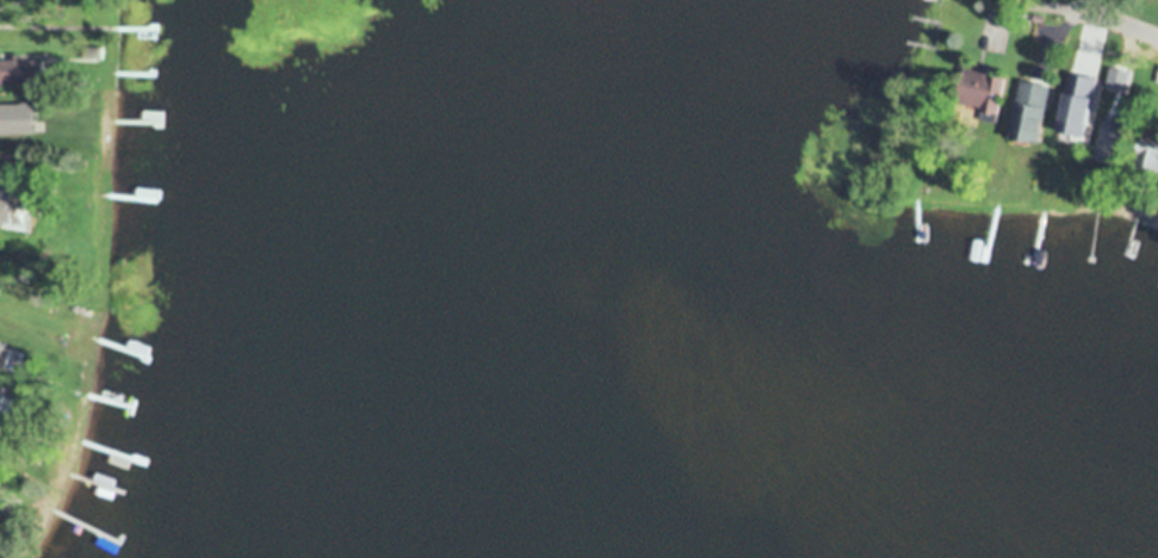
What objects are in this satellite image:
road: (1119, 20)
building: (1092, 62)
building: (1119, 64)
building: (24, 70)
building: (1156, 79)
building: (981, 88)
building: (36, 105)
building: (1030, 111)
building: (1073, 129)
building: (1148, 153)
building: (14, 206)
building: (5, 354)
building: (0, 494)

